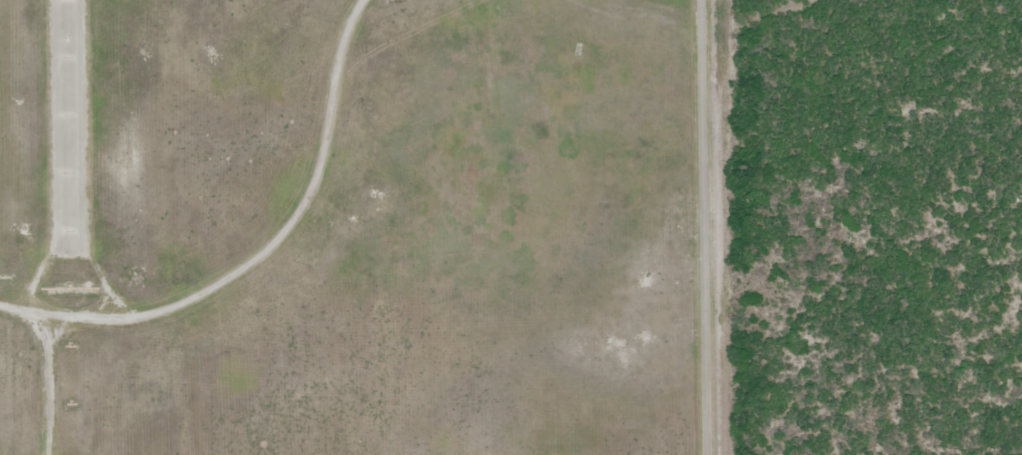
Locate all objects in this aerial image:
road: (709, 227)

